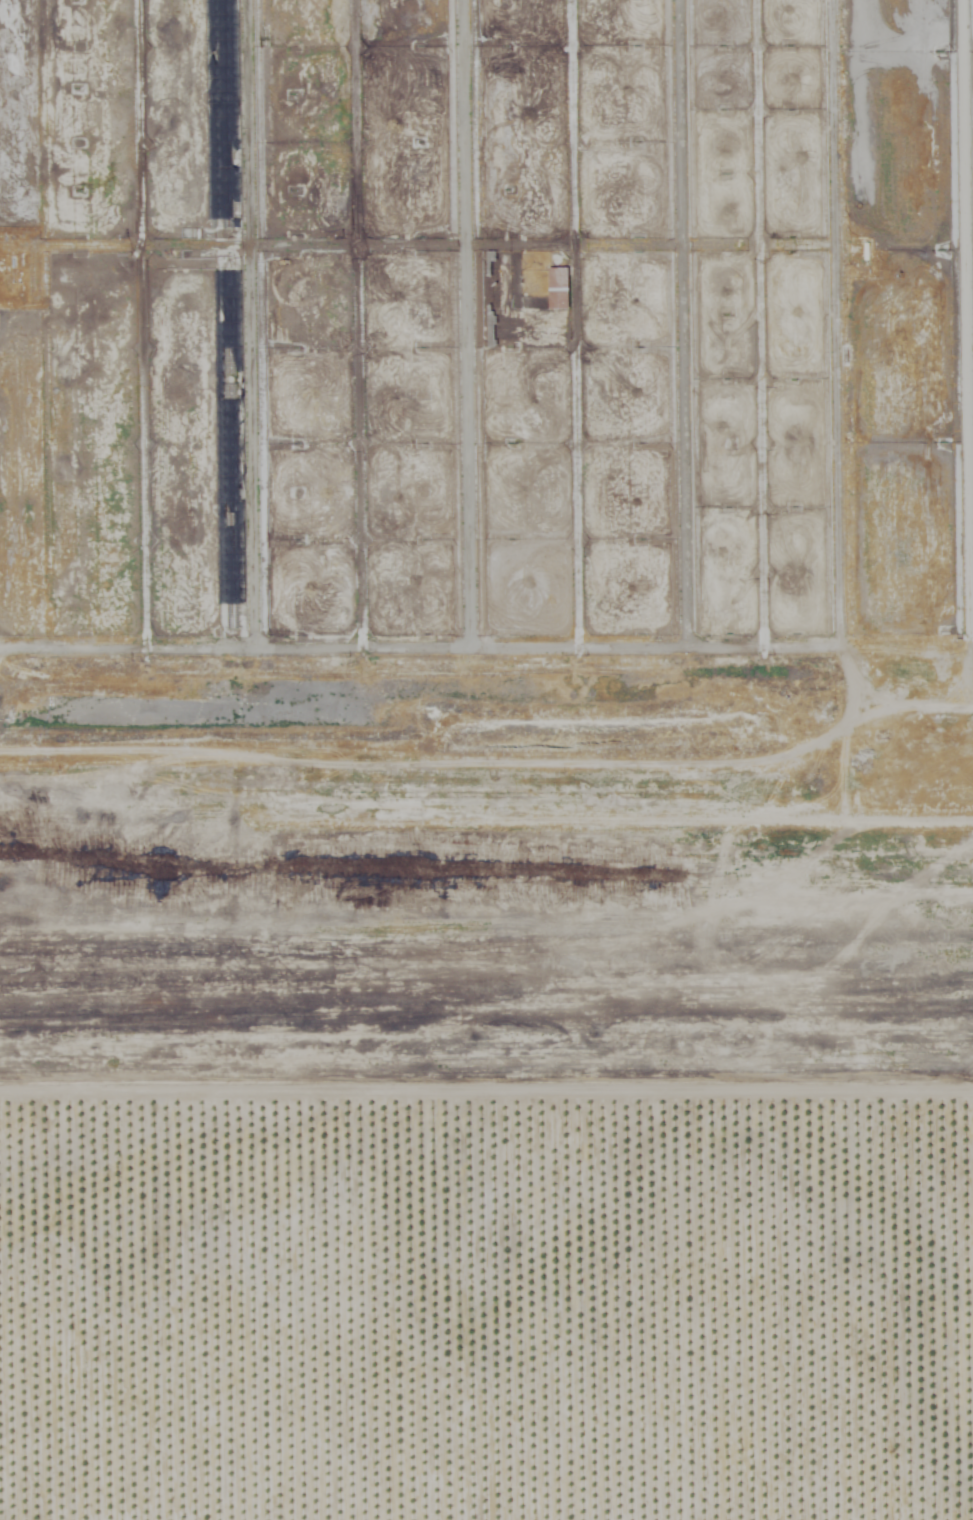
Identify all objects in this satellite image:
building: (555, 287)

